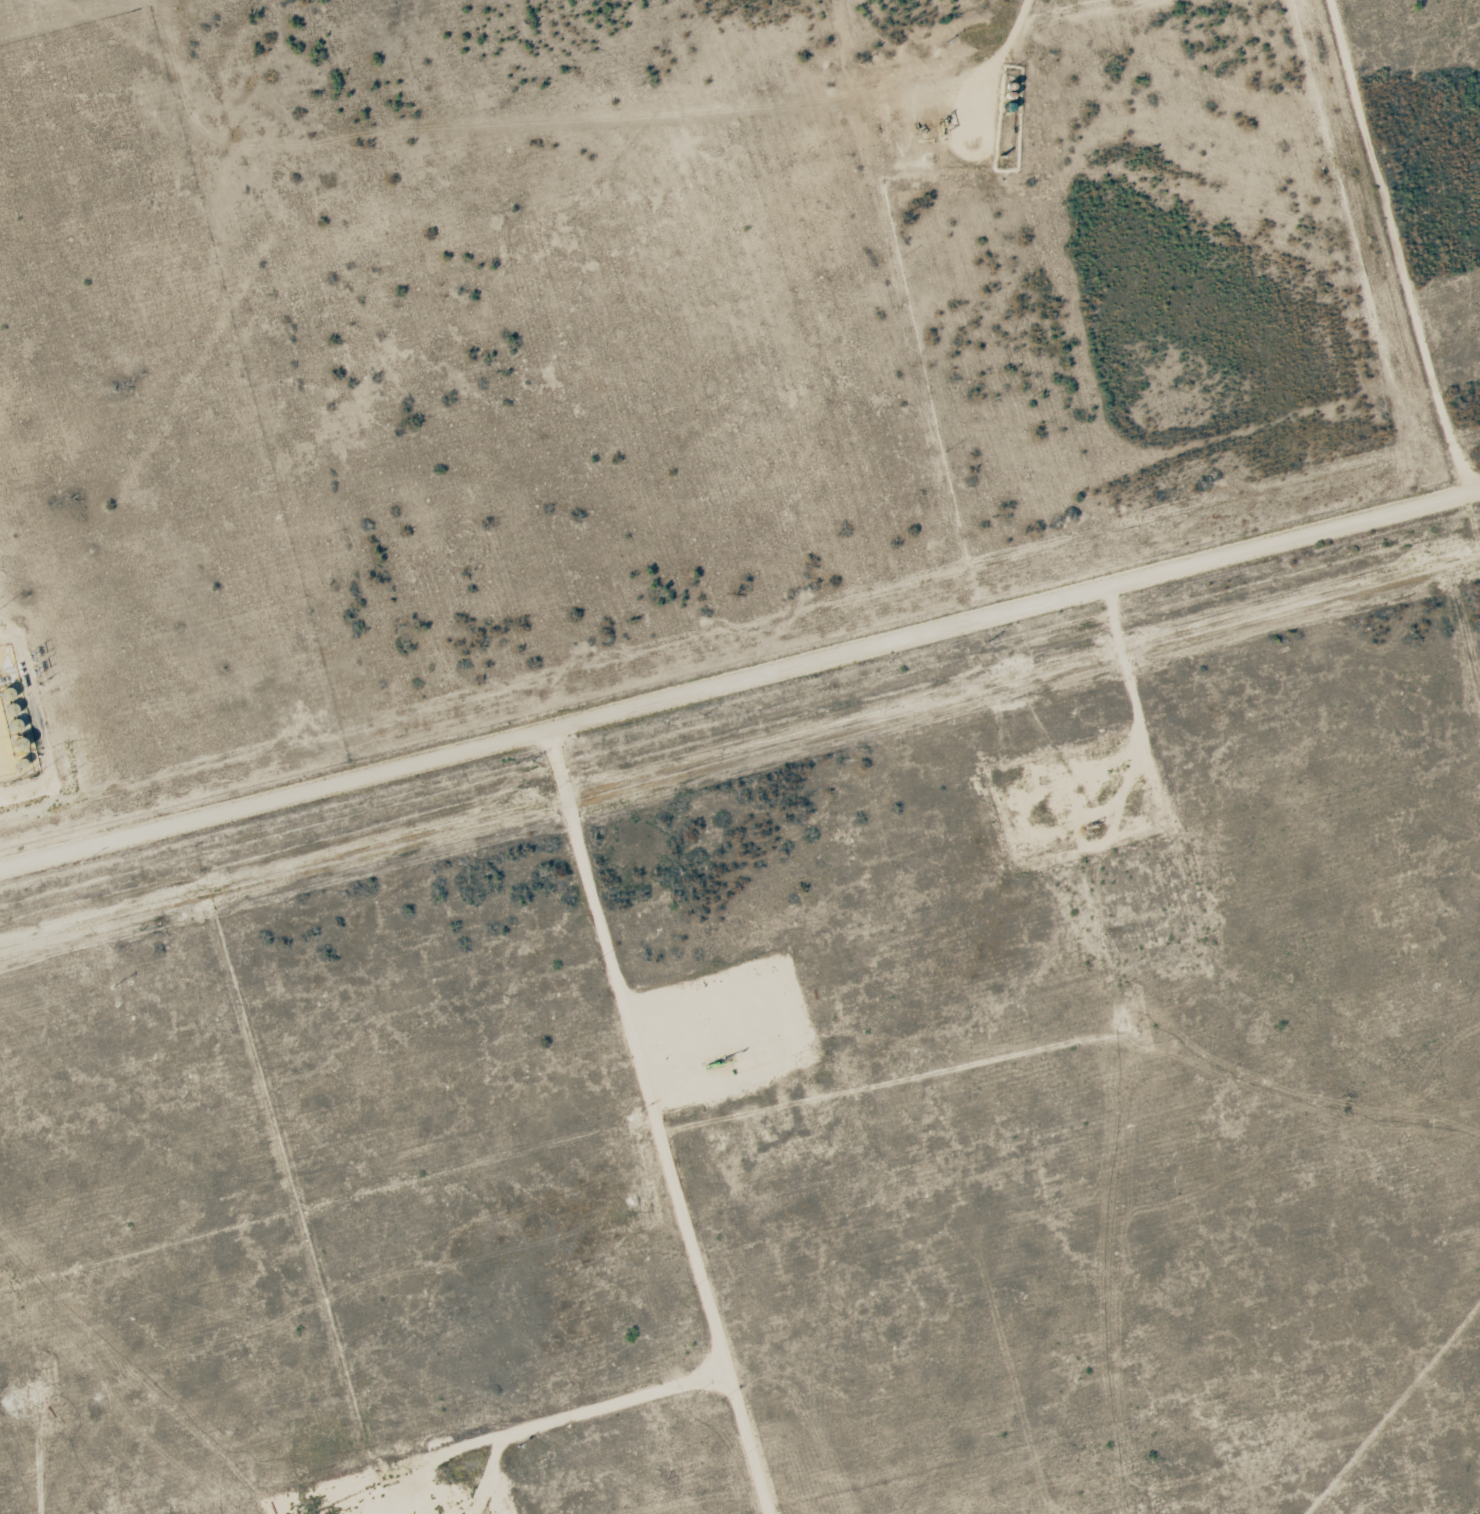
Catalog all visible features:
road: (740, 678)

